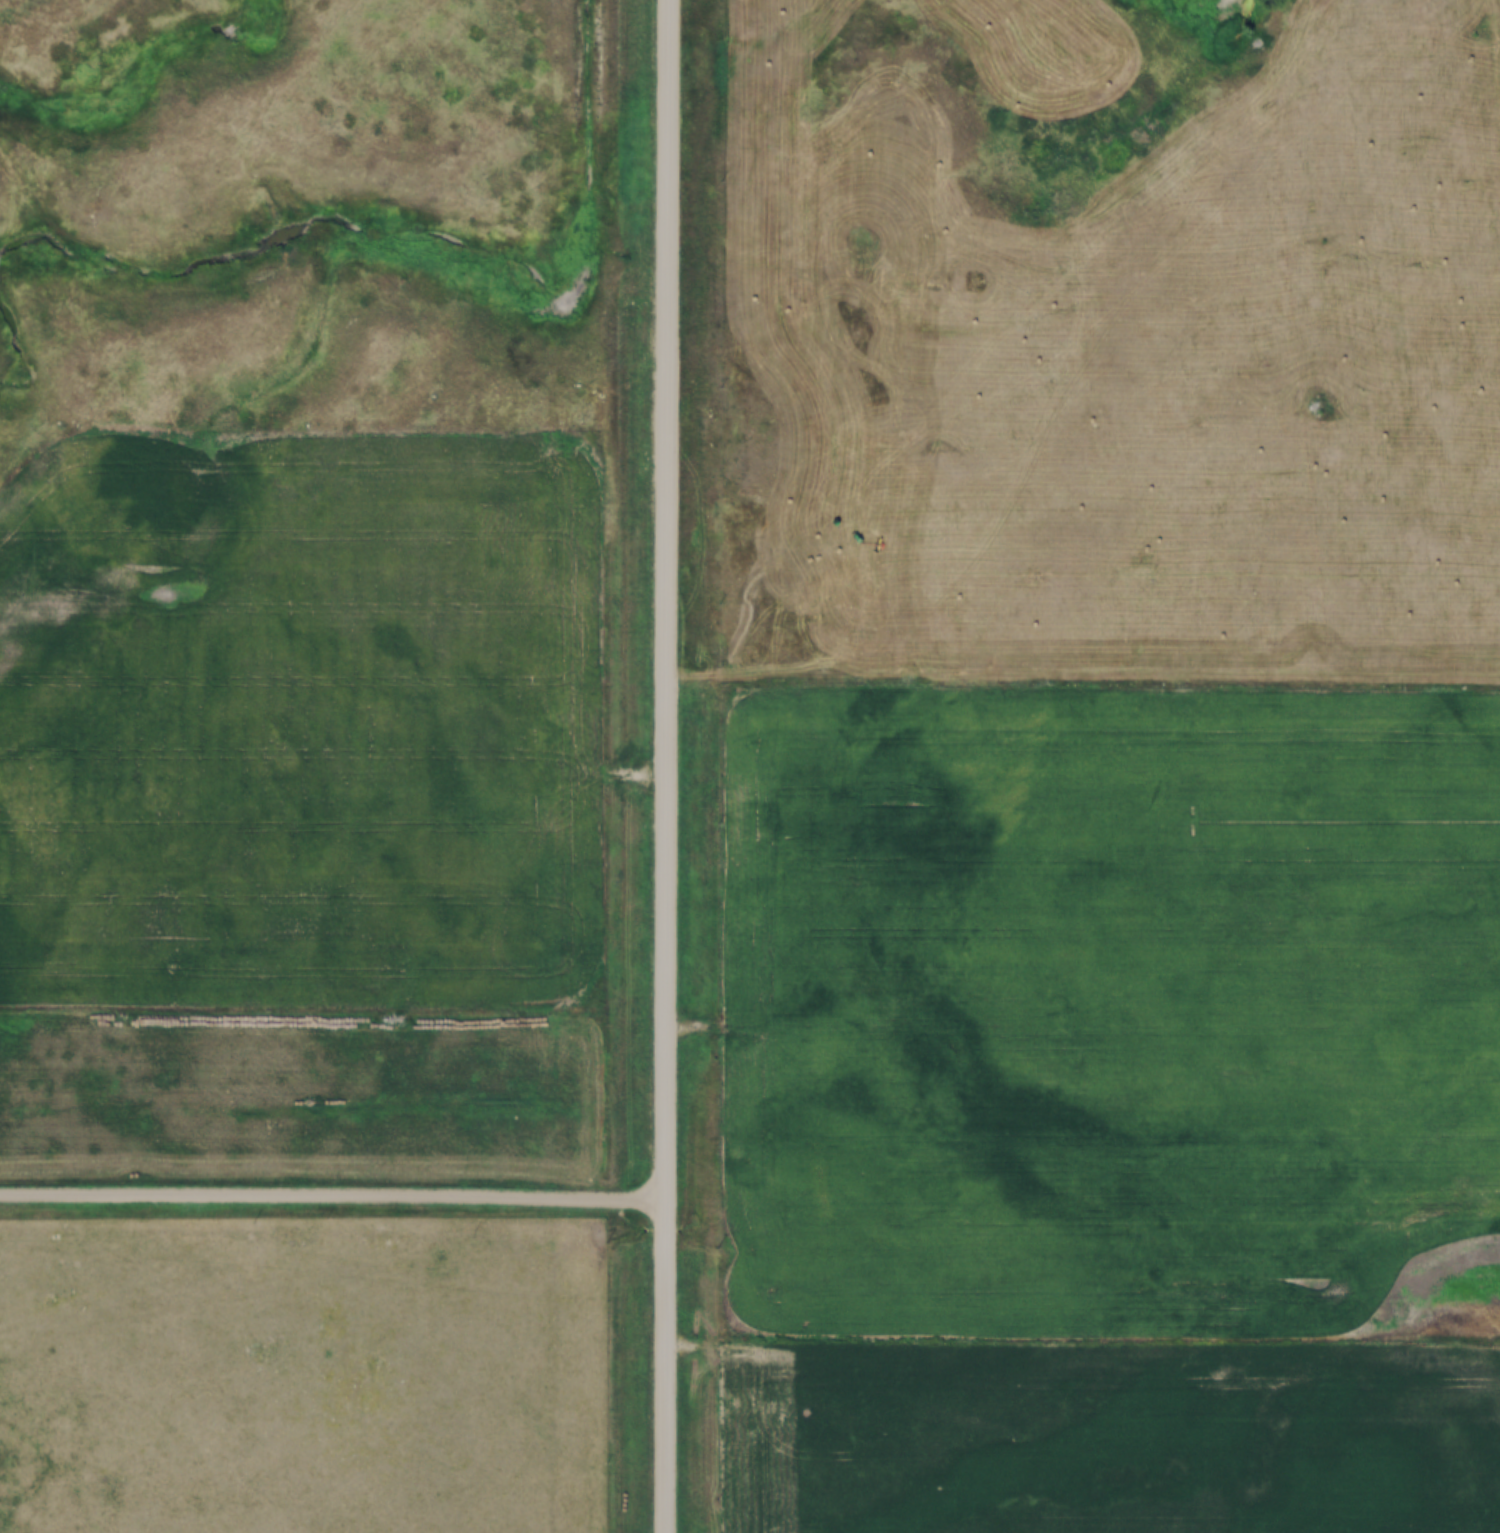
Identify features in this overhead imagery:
road: (671, 766)
road: (335, 1194)

